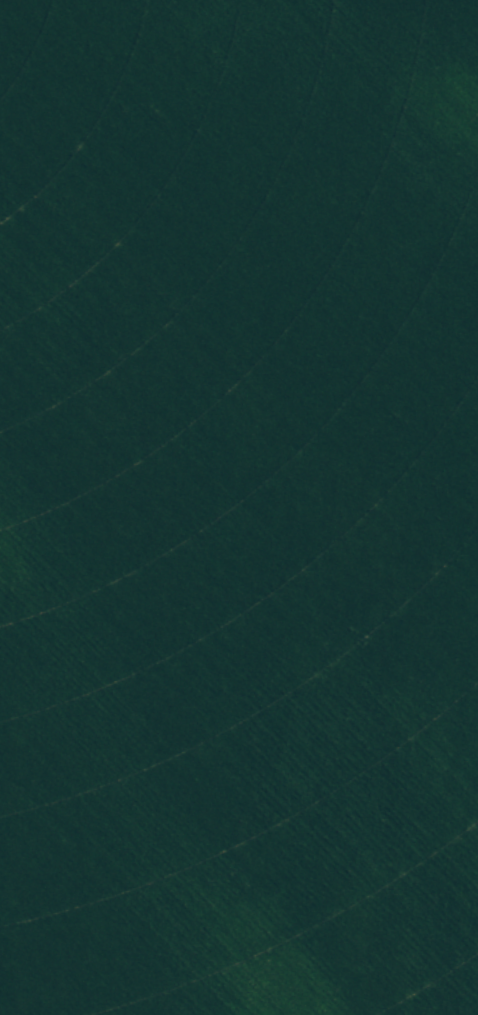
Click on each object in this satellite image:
building: (25, 327)
building: (467, 394)
building: (477, 508)

